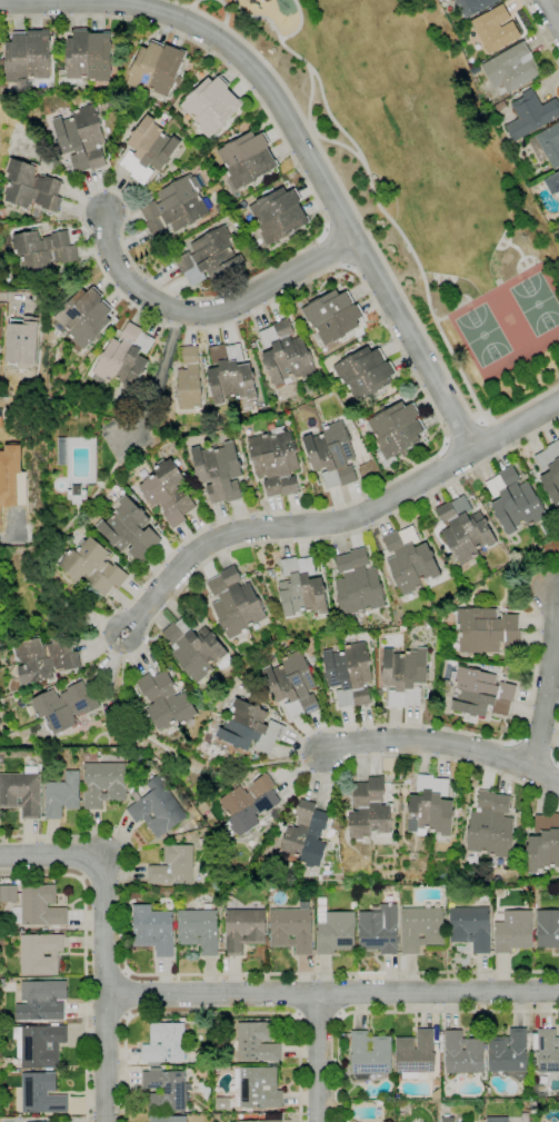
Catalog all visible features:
road: (192, 4)
building: (473, 6)
road: (224, 12)
road: (551, 12)
road: (298, 24)
building: (495, 29)
road: (539, 33)
building: (89, 56)
building: (27, 57)
building: (157, 68)
building: (511, 68)
building: (477, 69)
building: (84, 89)
road: (309, 99)
building: (211, 105)
building: (532, 112)
building: (82, 138)
road: (297, 139)
road: (337, 142)
building: (547, 145)
building: (149, 149)
building: (248, 159)
park: (421, 181)
building: (552, 183)
building: (31, 186)
road: (370, 192)
building: (177, 206)
building: (278, 215)
road: (342, 227)
road: (366, 231)
building: (43, 249)
building: (210, 257)
road: (346, 265)
road: (361, 279)
road: (10, 295)
park: (537, 304)
road: (209, 310)
building: (332, 316)
building: (84, 317)
park: (482, 335)
building: (23, 340)
building: (287, 354)
building: (252, 356)
building: (124, 358)
road: (164, 366)
building: (365, 374)
building: (231, 375)
building: (190, 379)
building: (1, 417)
road: (513, 425)
road: (463, 428)
building: (395, 430)
building: (223, 431)
road: (489, 437)
parking lot: (129, 438)
building: (63, 451)
building: (332, 454)
building: (277, 460)
road: (450, 463)
building: (550, 470)
building: (220, 471)
building: (9, 473)
building: (21, 488)
building: (170, 493)
building: (79, 494)
building: (515, 500)
building: (0, 519)
road: (286, 526)
building: (131, 528)
building: (548, 528)
building: (466, 529)
road: (13, 530)
building: (411, 560)
building: (96, 566)
building: (270, 569)
building: (359, 584)
building: (303, 588)
building: (237, 603)
building: (487, 629)
building: (198, 648)
building: (47, 657)
building: (350, 674)
building: (406, 675)
road: (548, 678)
building: (293, 685)
building: (380, 693)
building: (329, 694)
building: (480, 694)
building: (168, 702)
building: (64, 706)
road: (361, 726)
building: (251, 727)
road: (555, 739)
road: (426, 741)
road: (536, 746)
building: (139, 757)
road: (177, 761)
road: (543, 773)
building: (103, 782)
building: (22, 792)
building: (60, 792)
building: (249, 804)
building: (431, 806)
building: (157, 807)
building: (370, 810)
building: (491, 825)
building: (307, 835)
building: (543, 844)
building: (173, 866)
building: (8, 893)
building: (353, 904)
building: (39, 906)
building: (471, 927)
building: (292, 929)
building: (421, 929)
building: (548, 929)
building: (152, 930)
building: (198, 930)
building: (243, 930)
building: (333, 930)
building: (379, 930)
building: (513, 931)
road: (103, 937)
building: (40, 954)
road: (84, 959)
road: (209, 974)
road: (332, 993)
road: (128, 994)
building: (41, 1000)
road: (397, 1011)
road: (212, 1013)
road: (319, 1016)
building: (182, 1020)
building: (202, 1026)
building: (441, 1039)
building: (257, 1042)
building: (164, 1043)
building: (39, 1045)
building: (440, 1051)
building: (547, 1051)
building: (370, 1053)
building: (462, 1053)
building: (509, 1053)
building: (415, 1054)
road: (317, 1058)
building: (24, 1070)
building: (258, 1088)
building: (164, 1090)
building: (537, 1092)
building: (41, 1093)
building: (436, 1094)
building: (221, 1103)
building: (1, 1104)
building: (533, 1105)
building: (401, 1109)
building: (36, 1115)
building: (168, 1119)
building: (448, 1119)
building: (497, 1120)
building: (59, 1121)
building: (259, 1121)

